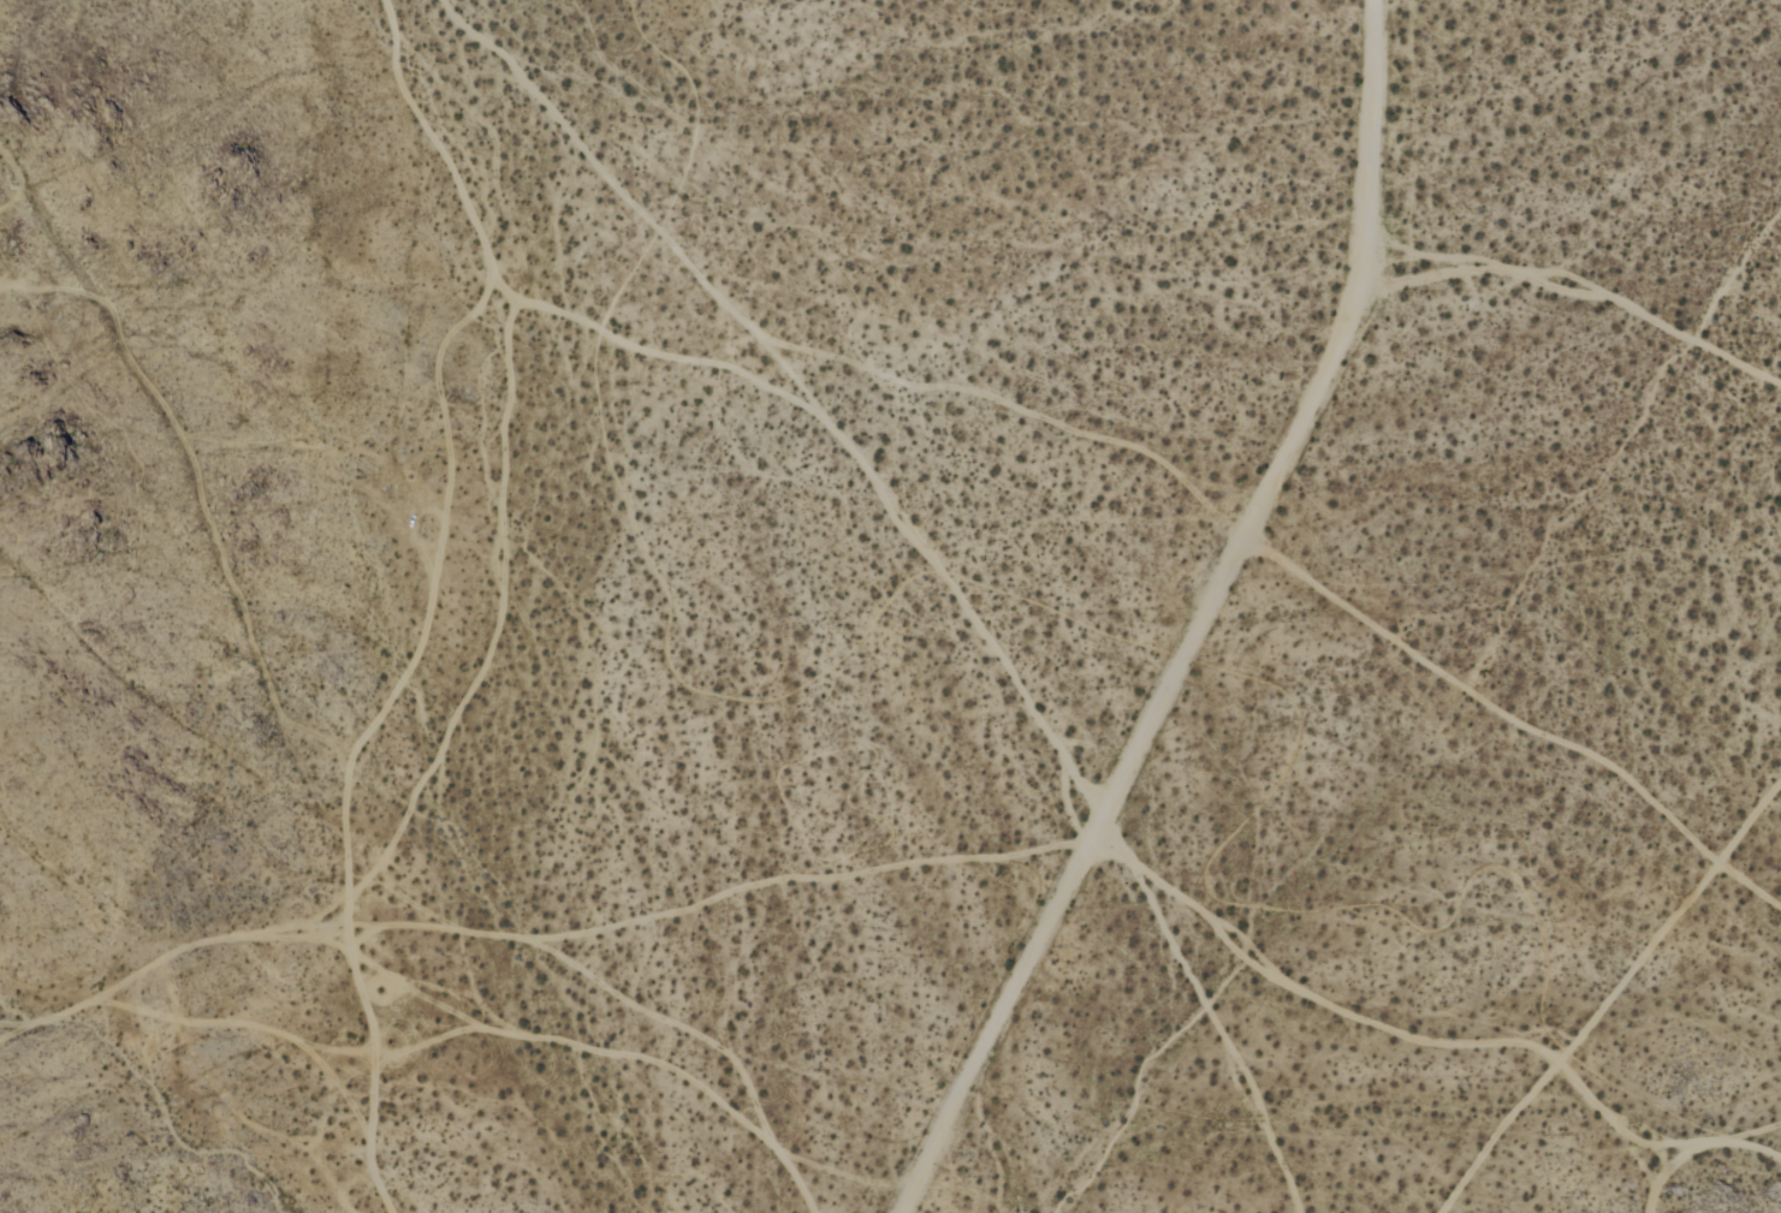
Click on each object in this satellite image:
road: (1195, 624)
road: (1609, 994)

